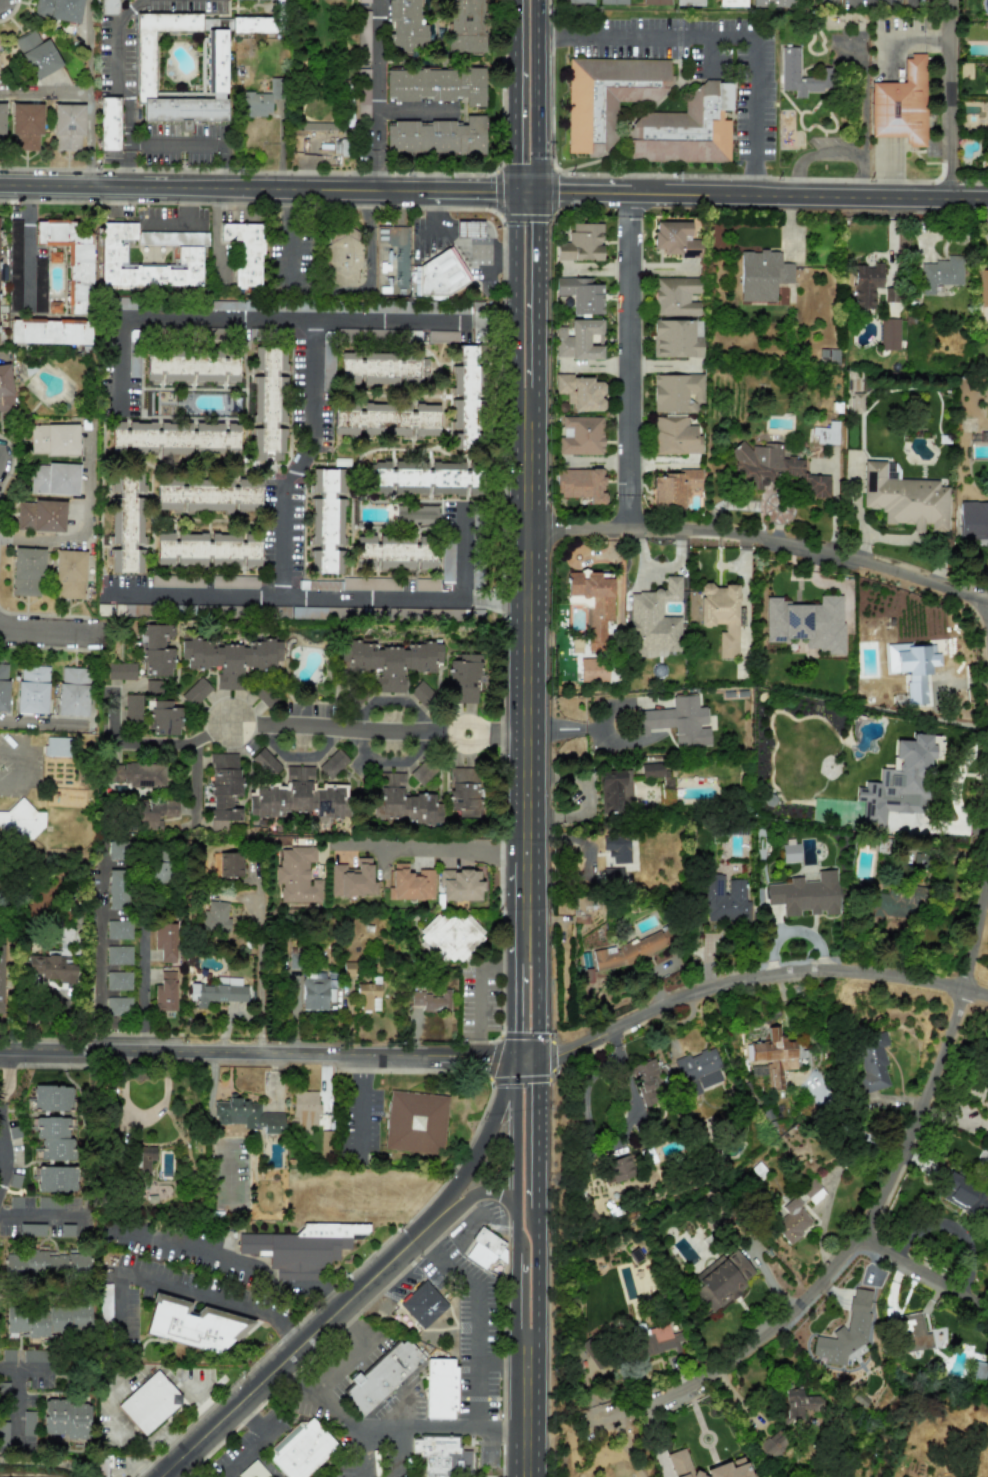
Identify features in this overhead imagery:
building: (363, 1)
building: (579, 1)
building: (612, 2)
building: (655, 2)
building: (688, 2)
building: (731, 3)
building: (772, 3)
building: (108, 7)
building: (59, 9)
building: (405, 23)
building: (257, 25)
building: (465, 26)
building: (363, 35)
road: (549, 36)
road: (663, 36)
building: (37, 54)
road: (708, 55)
building: (214, 62)
building: (789, 72)
building: (436, 84)
road: (90, 92)
road: (45, 93)
road: (378, 94)
road: (524, 95)
building: (607, 97)
road: (948, 98)
building: (363, 99)
building: (261, 100)
road: (863, 100)
road: (753, 105)
building: (900, 105)
road: (416, 111)
building: (1, 124)
building: (108, 124)
building: (26, 126)
building: (68, 126)
building: (319, 126)
road: (128, 129)
building: (683, 129)
building: (437, 136)
road: (812, 155)
road: (861, 176)
road: (753, 183)
road: (261, 187)
road: (755, 194)
road: (523, 222)
road: (181, 223)
road: (216, 229)
building: (469, 229)
road: (288, 234)
road: (369, 238)
building: (675, 239)
building: (581, 243)
road: (456, 244)
road: (28, 246)
building: (245, 252)
building: (188, 255)
building: (342, 257)
building: (70, 259)
building: (14, 263)
building: (39, 264)
building: (415, 268)
building: (940, 274)
building: (762, 275)
building: (866, 285)
road: (523, 288)
building: (982, 288)
building: (580, 294)
building: (676, 296)
building: (123, 303)
building: (230, 305)
road: (296, 317)
road: (499, 321)
building: (49, 331)
building: (889, 334)
building: (408, 335)
building: (442, 336)
building: (676, 338)
building: (579, 340)
building: (133, 353)
building: (828, 355)
road: (629, 359)
building: (326, 361)
road: (120, 363)
building: (192, 367)
building: (382, 368)
building: (5, 390)
building: (580, 392)
building: (676, 392)
building: (465, 398)
building: (857, 401)
building: (268, 404)
building: (385, 420)
building: (826, 434)
building: (580, 435)
building: (675, 436)
building: (174, 438)
building: (53, 439)
road: (300, 456)
building: (775, 468)
building: (891, 470)
building: (54, 478)
building: (424, 478)
building: (580, 484)
building: (674, 488)
building: (208, 496)
building: (905, 498)
building: (40, 515)
building: (415, 515)
building: (125, 520)
building: (326, 520)
building: (973, 520)
road: (85, 524)
road: (761, 539)
building: (207, 550)
building: (394, 552)
building: (447, 561)
building: (26, 572)
building: (68, 574)
building: (476, 579)
building: (234, 581)
building: (183, 582)
building: (359, 584)
building: (426, 585)
road: (332, 595)
road: (491, 601)
building: (593, 604)
building: (133, 609)
building: (228, 610)
road: (987, 611)
building: (281, 612)
building: (313, 612)
building: (721, 614)
building: (654, 619)
building: (806, 623)
road: (56, 633)
building: (155, 650)
building: (230, 658)
building: (389, 662)
building: (912, 668)
building: (593, 670)
building: (121, 671)
building: (463, 679)
building: (151, 685)
building: (3, 687)
building: (31, 689)
road: (520, 690)
building: (72, 691)
building: (195, 692)
building: (421, 692)
building: (265, 695)
road: (393, 700)
building: (132, 709)
building: (163, 718)
building: (676, 721)
road: (36, 722)
road: (284, 724)
road: (584, 728)
road: (616, 742)
building: (57, 746)
road: (24, 755)
road: (300, 757)
road: (390, 760)
building: (266, 761)
building: (333, 763)
building: (653, 770)
building: (139, 774)
road: (195, 779)
building: (900, 780)
road: (9, 781)
building: (223, 789)
building: (463, 791)
building: (614, 792)
building: (297, 797)
building: (402, 801)
building: (153, 813)
building: (20, 821)
building: (882, 845)
road: (429, 848)
building: (617, 848)
building: (117, 850)
building: (790, 853)
building: (230, 864)
building: (159, 872)
building: (297, 875)
building: (612, 875)
building: (352, 879)
building: (410, 883)
building: (460, 884)
building: (117, 889)
building: (805, 895)
building: (725, 900)
building: (899, 902)
building: (216, 916)
building: (119, 929)
building: (451, 936)
building: (165, 941)
building: (629, 951)
building: (118, 955)
road: (261, 963)
building: (50, 968)
road: (100, 970)
road: (744, 971)
building: (1, 978)
building: (118, 980)
building: (317, 990)
building: (218, 991)
road: (143, 992)
building: (165, 992)
building: (369, 995)
road: (481, 995)
building: (432, 1001)
building: (118, 1005)
road: (241, 1053)
road: (622, 1057)
road: (500, 1059)
building: (778, 1060)
building: (872, 1060)
building: (698, 1070)
road: (627, 1071)
road: (0, 1077)
building: (646, 1081)
building: (52, 1098)
road: (359, 1106)
building: (305, 1111)
building: (247, 1115)
building: (415, 1121)
road: (588, 1130)
road: (521, 1132)
road: (486, 1138)
building: (53, 1139)
road: (4, 1148)
road: (3, 1154)
building: (143, 1159)
building: (620, 1168)
building: (56, 1179)
building: (811, 1191)
road: (482, 1193)
building: (966, 1196)
road: (878, 1199)
building: (16, 1202)
building: (49, 1203)
road: (41, 1214)
building: (792, 1220)
building: (32, 1230)
building: (66, 1230)
building: (301, 1246)
building: (486, 1250)
building: (46, 1263)
road: (238, 1263)
road: (923, 1269)
building: (720, 1280)
road: (192, 1291)
building: (105, 1302)
building: (423, 1303)
road: (476, 1304)
building: (48, 1320)
building: (193, 1325)
building: (845, 1331)
building: (909, 1333)
road: (327, 1341)
road: (526, 1341)
road: (303, 1345)
road: (354, 1352)
building: (33, 1355)
building: (979, 1371)
building: (381, 1377)
building: (440, 1388)
road: (482, 1393)
building: (149, 1402)
road: (15, 1404)
building: (797, 1405)
road: (503, 1411)
building: (65, 1419)
building: (28, 1426)
road: (393, 1428)
building: (3, 1434)
road: (259, 1442)
building: (301, 1449)
road: (359, 1451)
building: (441, 1456)
building: (731, 1465)
building: (101, 1466)
building: (253, 1471)

